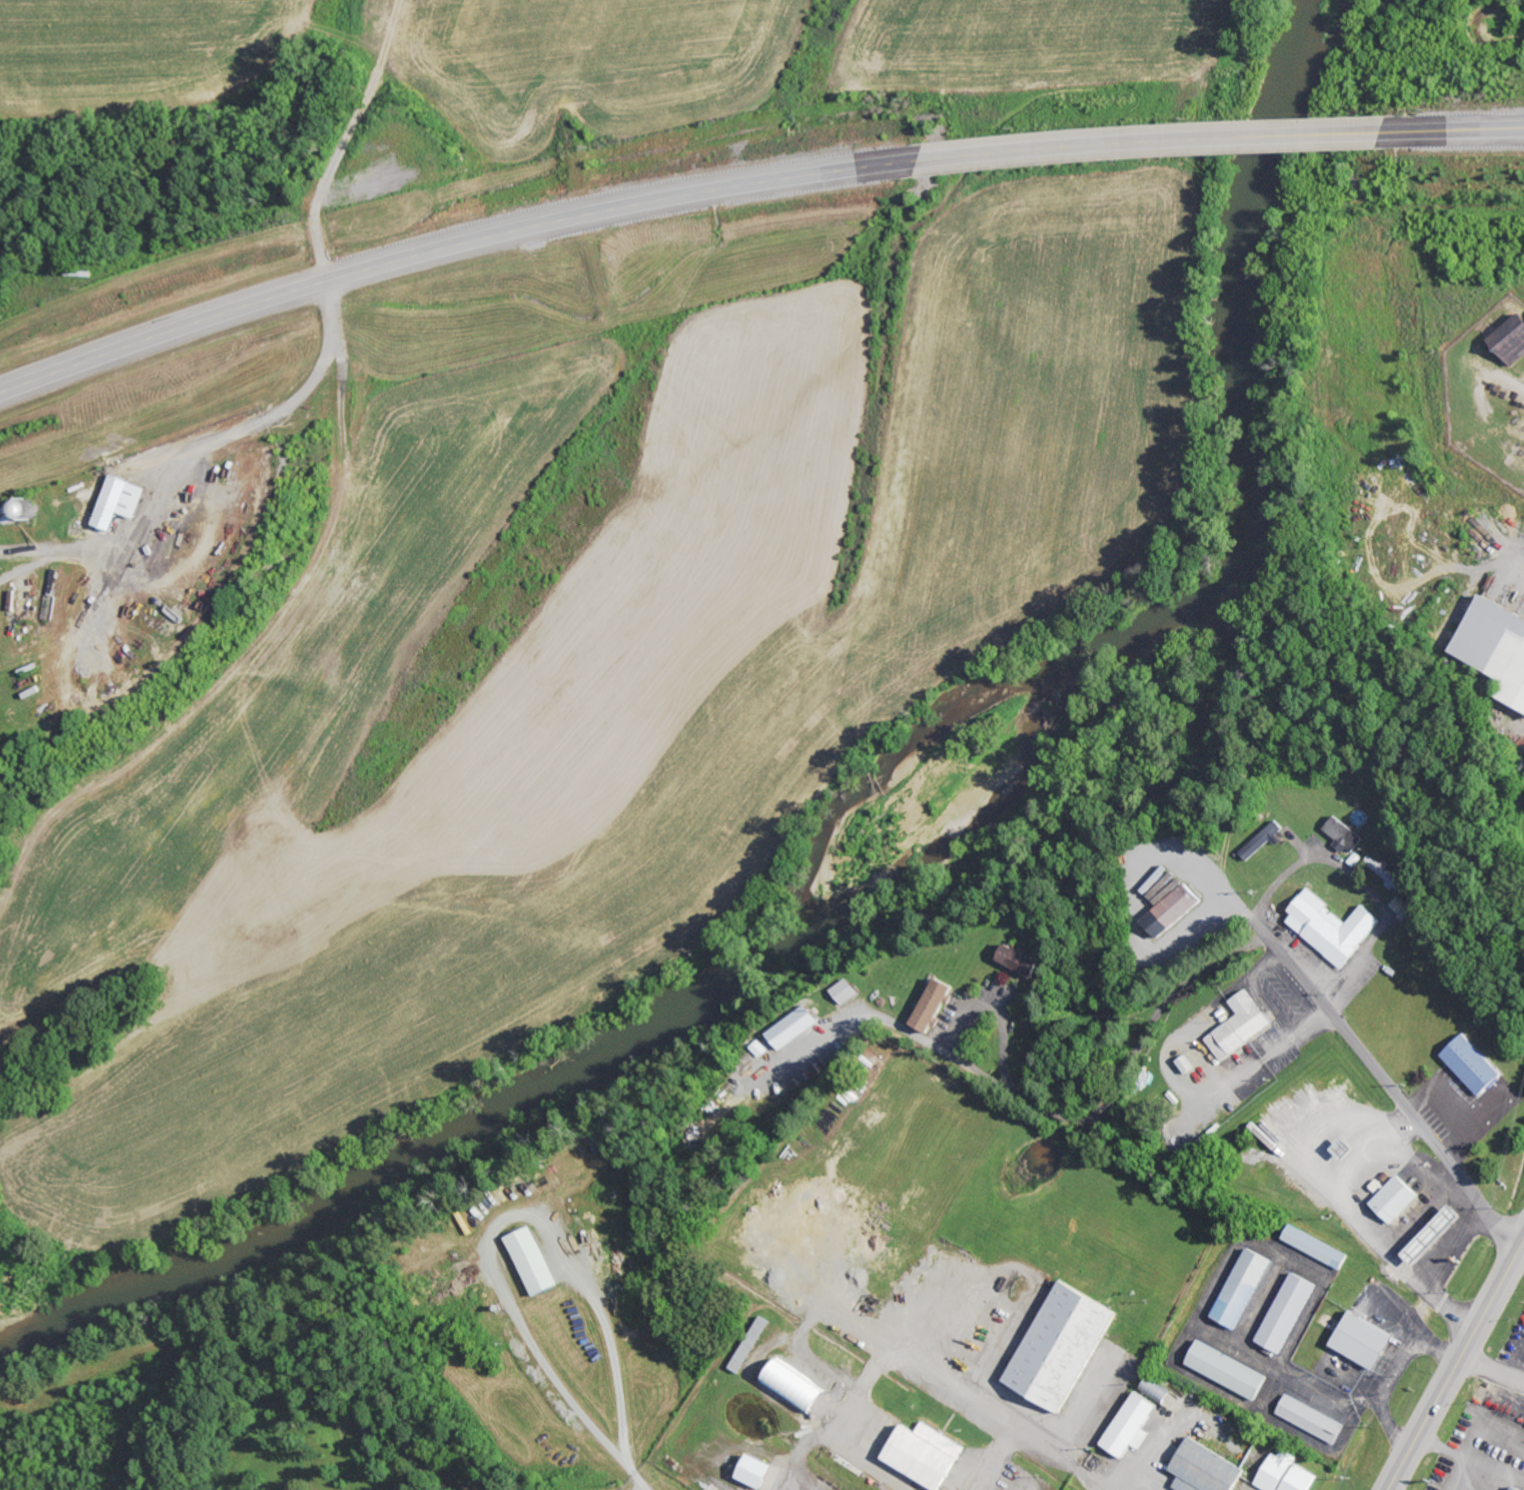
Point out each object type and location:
road: (1460, 130)
road: (1160, 140)
road: (454, 243)
building: (1513, 340)
road: (34, 475)
building: (123, 501)
building: (50, 512)
building: (1498, 642)
building: (1347, 835)
building: (1265, 839)
building: (1389, 874)
building: (1172, 902)
building: (1404, 907)
building: (1336, 928)
building: (1029, 961)
road: (1186, 984)
building: (853, 991)
building: (940, 1005)
building: (1243, 1026)
building: (803, 1027)
building: (1476, 1066)
road: (1387, 1086)
building: (1398, 1200)
building: (1438, 1235)
building: (1319, 1247)
building: (539, 1262)
building: (1246, 1288)
building: (1291, 1313)
building: (1367, 1342)
building: (1067, 1347)
road: (1456, 1366)
building: (1231, 1371)
building: (799, 1389)
building: (1139, 1420)
building: (1314, 1420)
road: (1035, 1440)
building: (929, 1456)
building: (1207, 1469)
building: (762, 1473)
building: (1291, 1474)
building: (1519, 1489)

